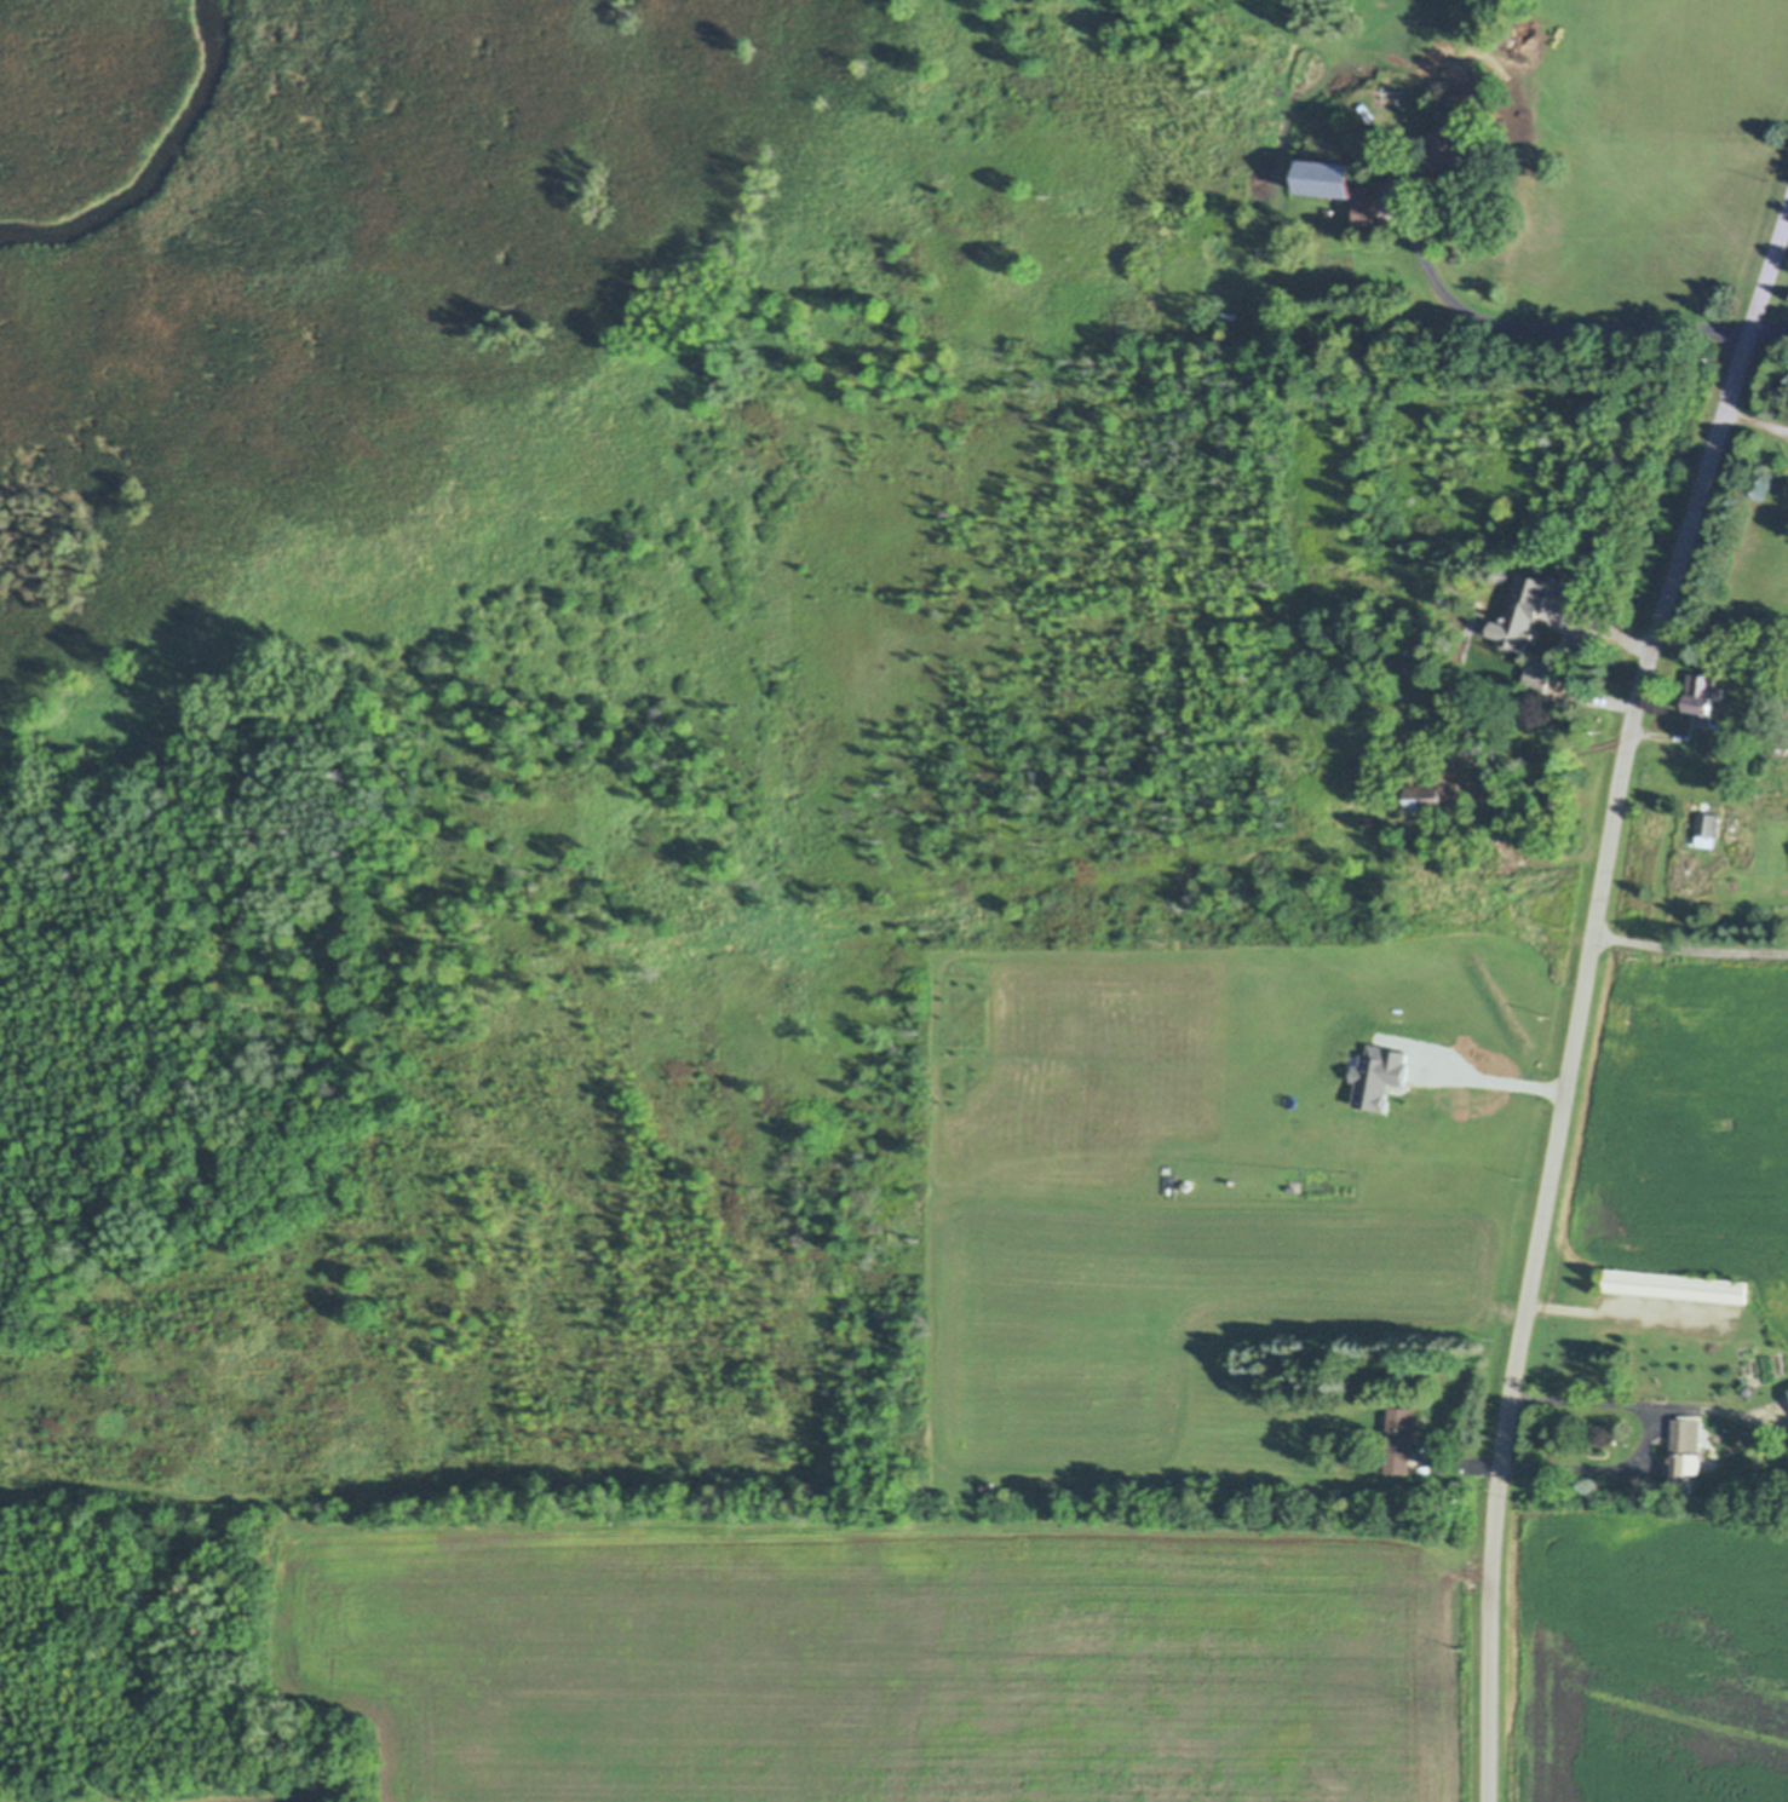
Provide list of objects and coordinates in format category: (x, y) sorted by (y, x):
building: (1258, 102)
building: (1461, 114)
building: (1450, 154)
river: (159, 168)
building: (1324, 180)
building: (1363, 189)
building: (1366, 213)
building: (1338, 287)
road: (1543, 336)
building: (1458, 597)
building: (1517, 644)
road: (1552, 663)
building: (1537, 679)
building: (1704, 697)
building: (1493, 791)
building: (1427, 796)
building: (1559, 801)
building: (1707, 828)
building: (1689, 840)
road: (1690, 944)
road: (1582, 996)
road: (1497, 1077)
building: (1674, 1285)
road: (1625, 1309)
building: (1787, 1393)
building: (1381, 1437)
road: (1643, 1437)
building: (1399, 1439)
building: (1684, 1453)
building: (1701, 1462)
building: (1198, 1484)
building: (985, 1485)
building: (1144, 1491)
building: (1335, 1492)

